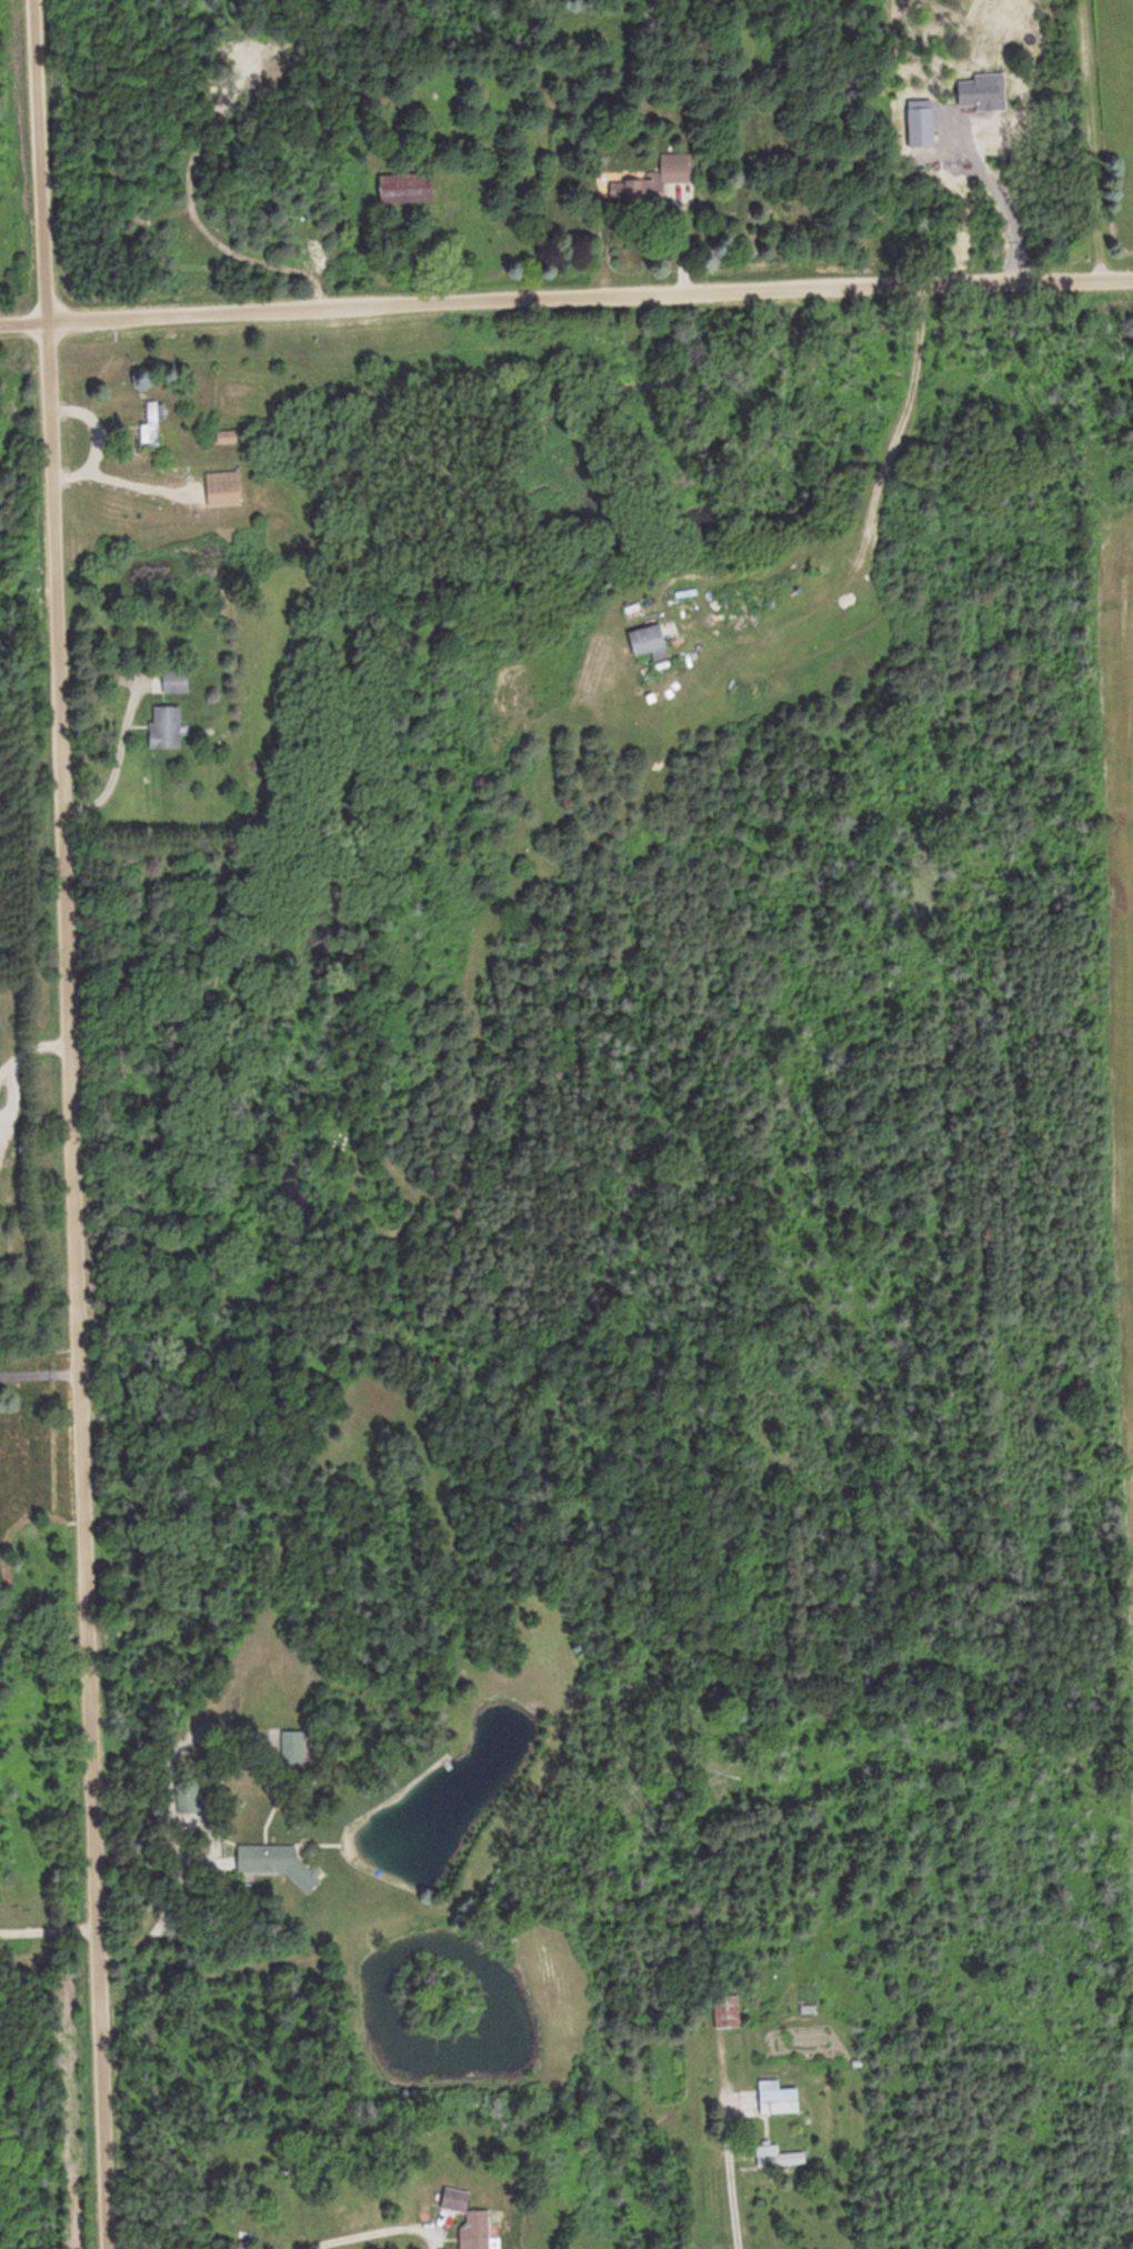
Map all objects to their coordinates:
road: (1113, 139)
building: (680, 168)
building: (410, 188)
building: (632, 190)
road: (566, 298)
building: (153, 422)
building: (224, 438)
building: (654, 642)
building: (173, 682)
building: (169, 727)
road: (60, 1124)
building: (294, 1747)
building: (190, 1797)
building: (279, 1865)
building: (728, 2011)
building: (780, 2097)
building: (779, 2157)
building: (479, 2229)

